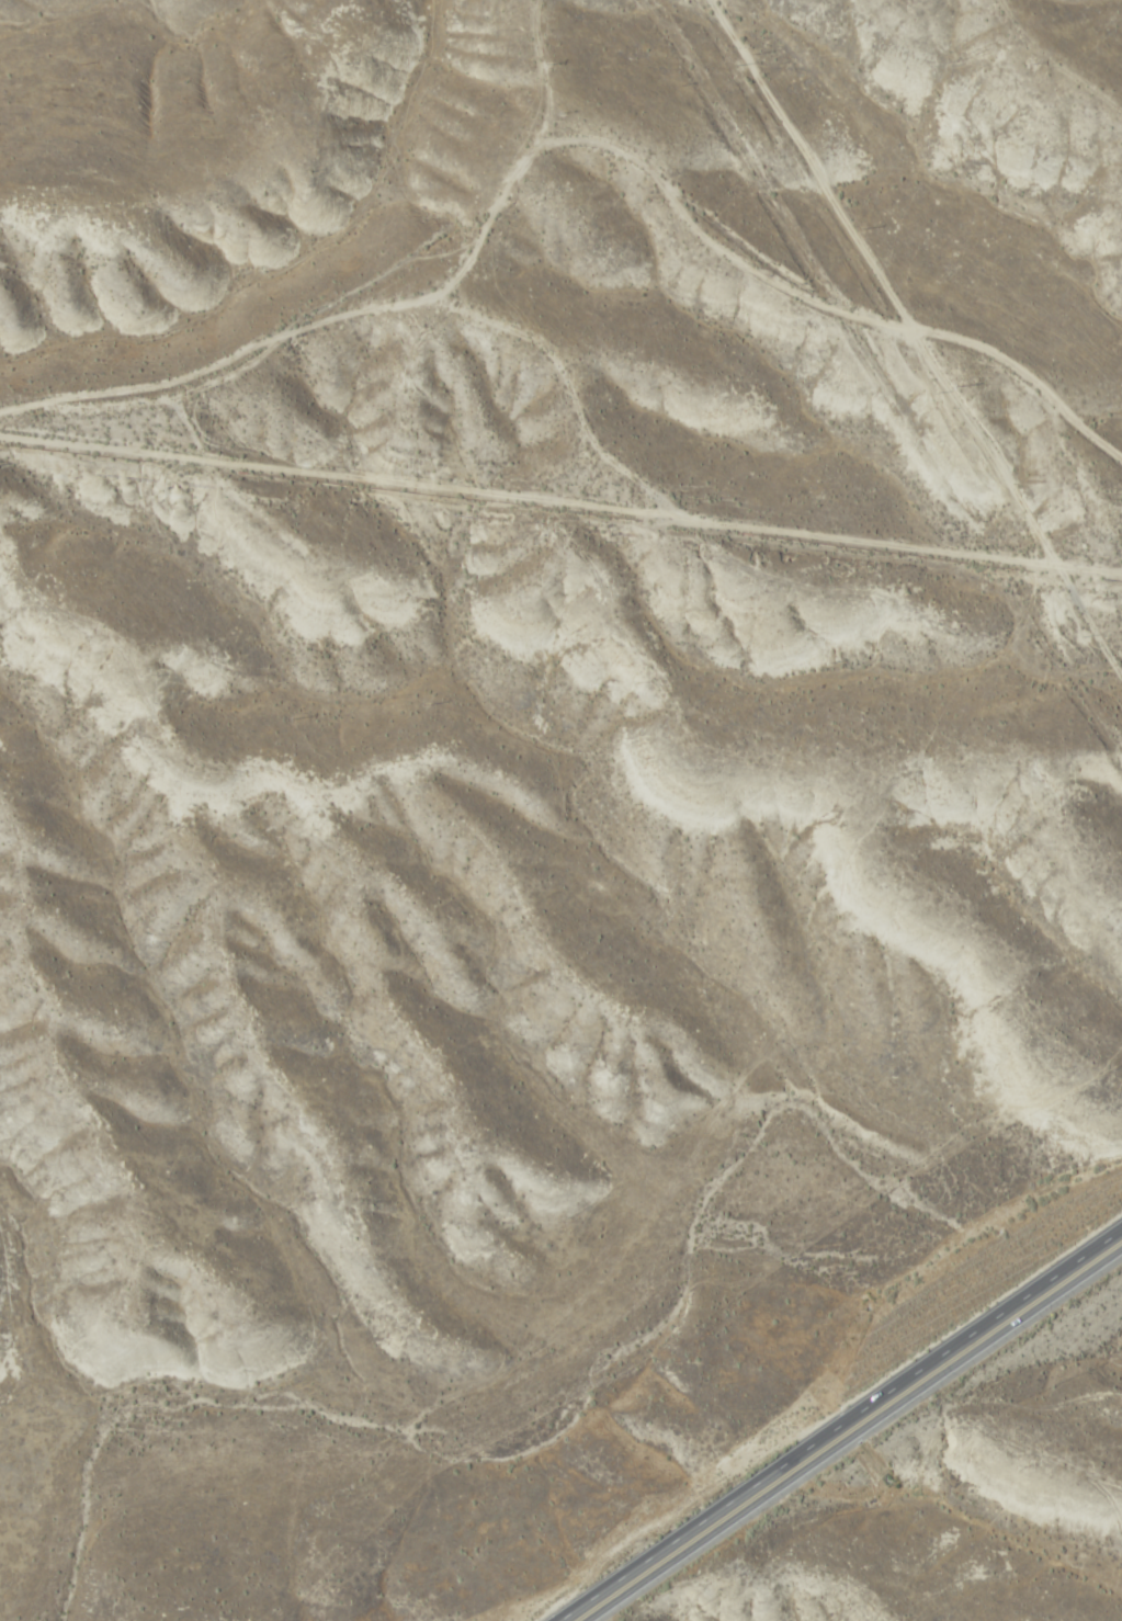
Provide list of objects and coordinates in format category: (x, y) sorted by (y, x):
road: (660, 161)
road: (894, 256)
road: (849, 1433)
crop: (997, 1546)

